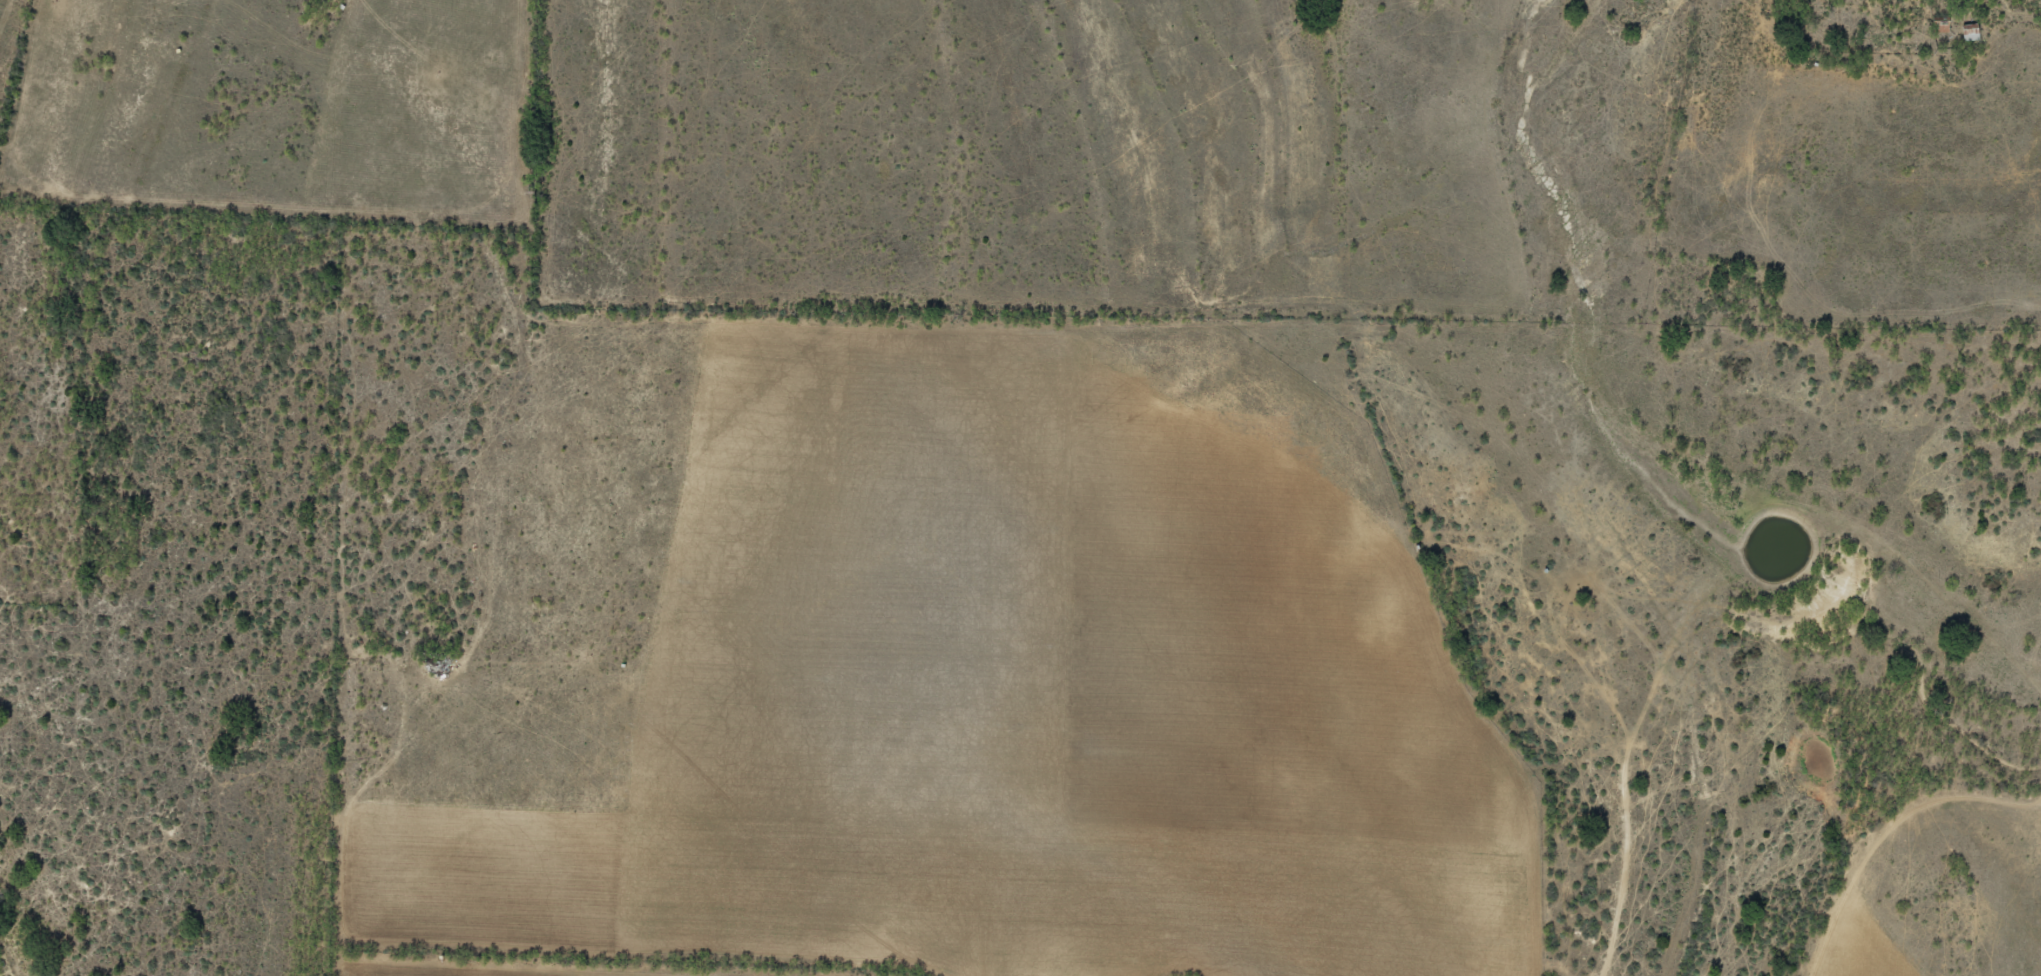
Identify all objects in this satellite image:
building: (1972, 32)

